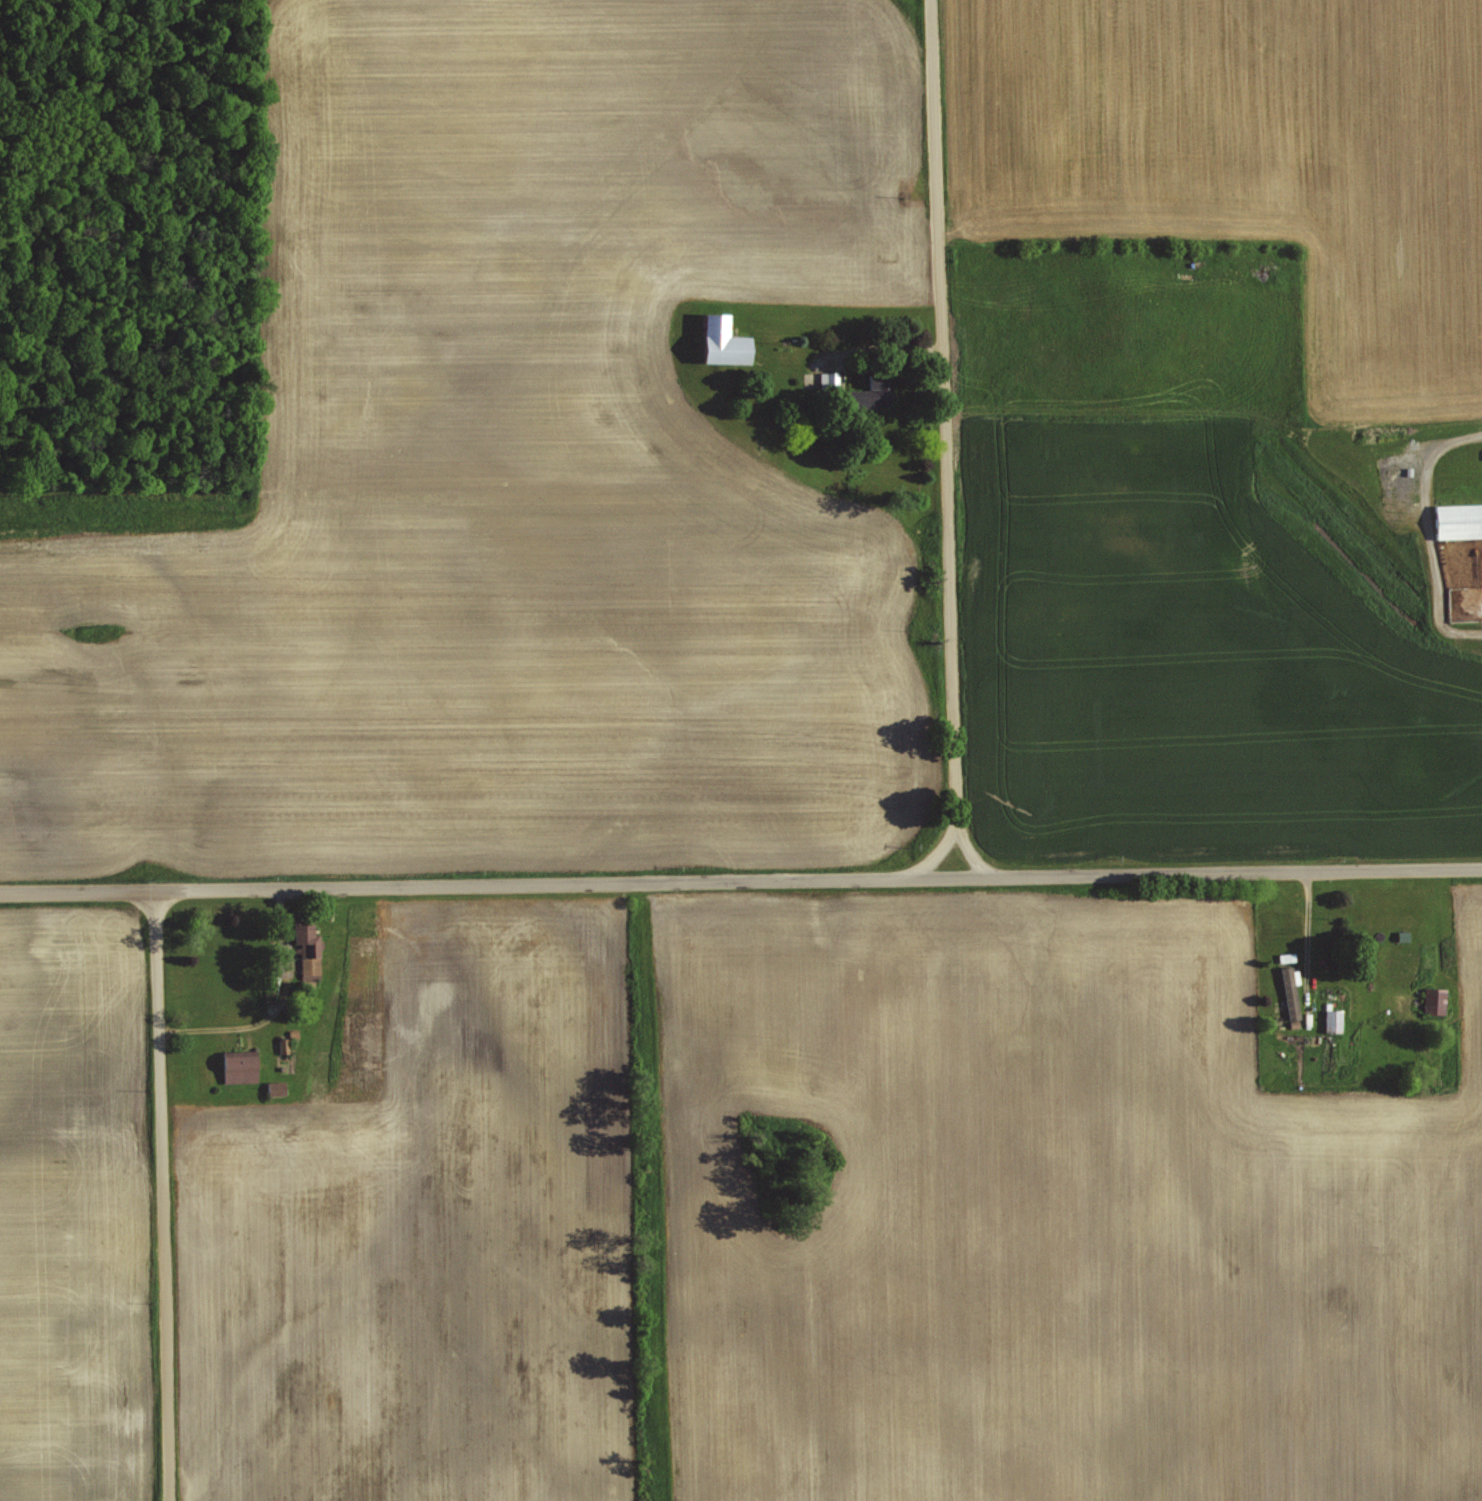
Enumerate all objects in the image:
building: (718, 342)
building: (826, 379)
road: (943, 439)
building: (1457, 519)
road: (740, 882)
building: (306, 948)
building: (1432, 999)
building: (1330, 1019)
building: (280, 1044)
building: (236, 1067)
building: (273, 1086)
road: (162, 1196)

